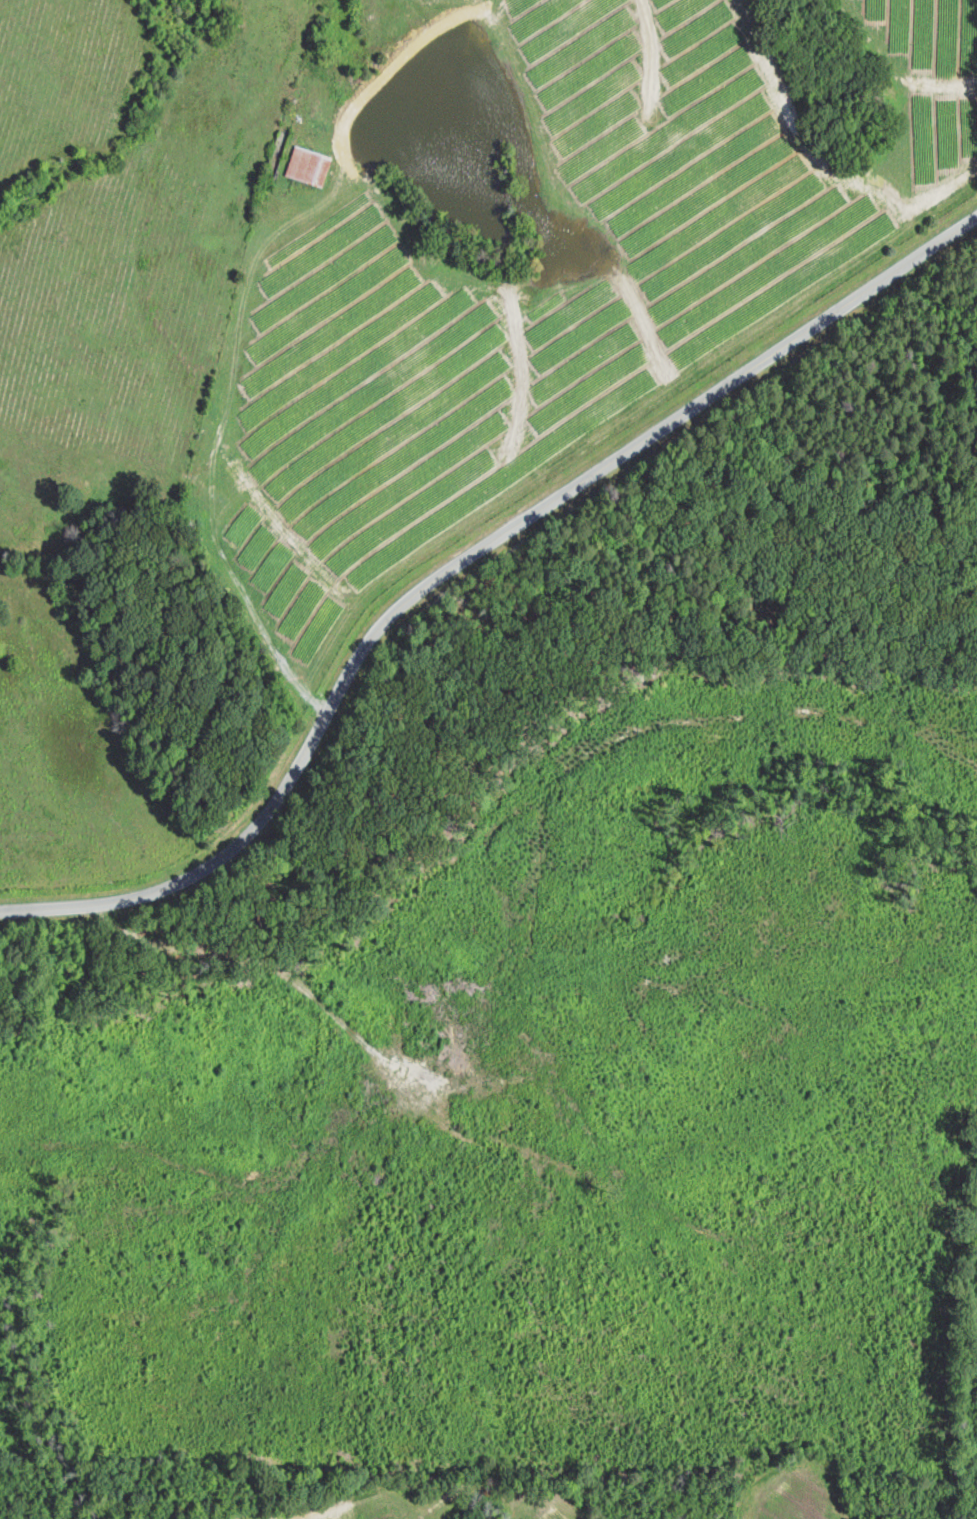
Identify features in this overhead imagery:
building: (312, 165)
road: (460, 563)

